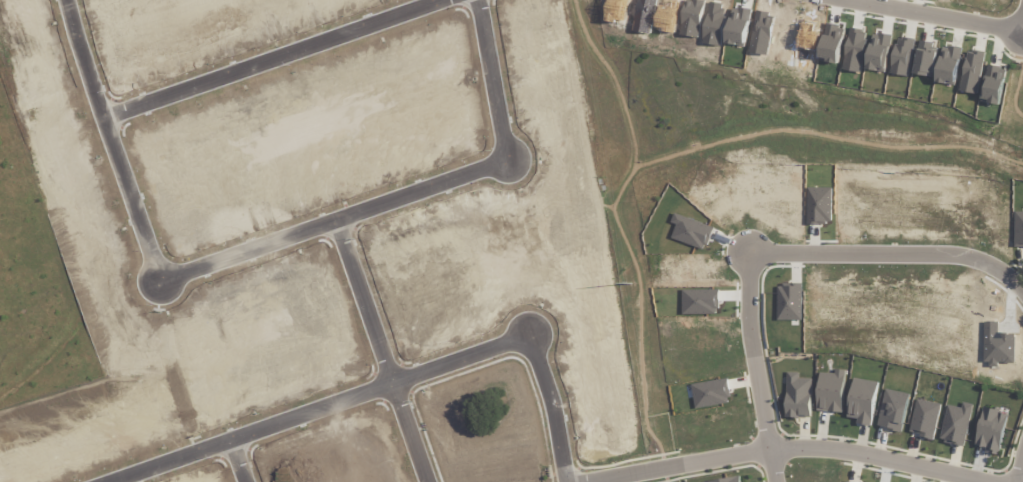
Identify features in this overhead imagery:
road: (939, 15)
road: (272, 58)
road: (271, 241)
road: (892, 254)
power tower: (639, 287)
road: (387, 350)
road: (753, 367)
building: (831, 391)
building: (798, 396)
building: (863, 401)
road: (558, 402)
road: (309, 403)
building: (957, 423)
building: (991, 430)
road: (781, 448)
road: (243, 456)
road: (1019, 471)
building: (728, 479)

